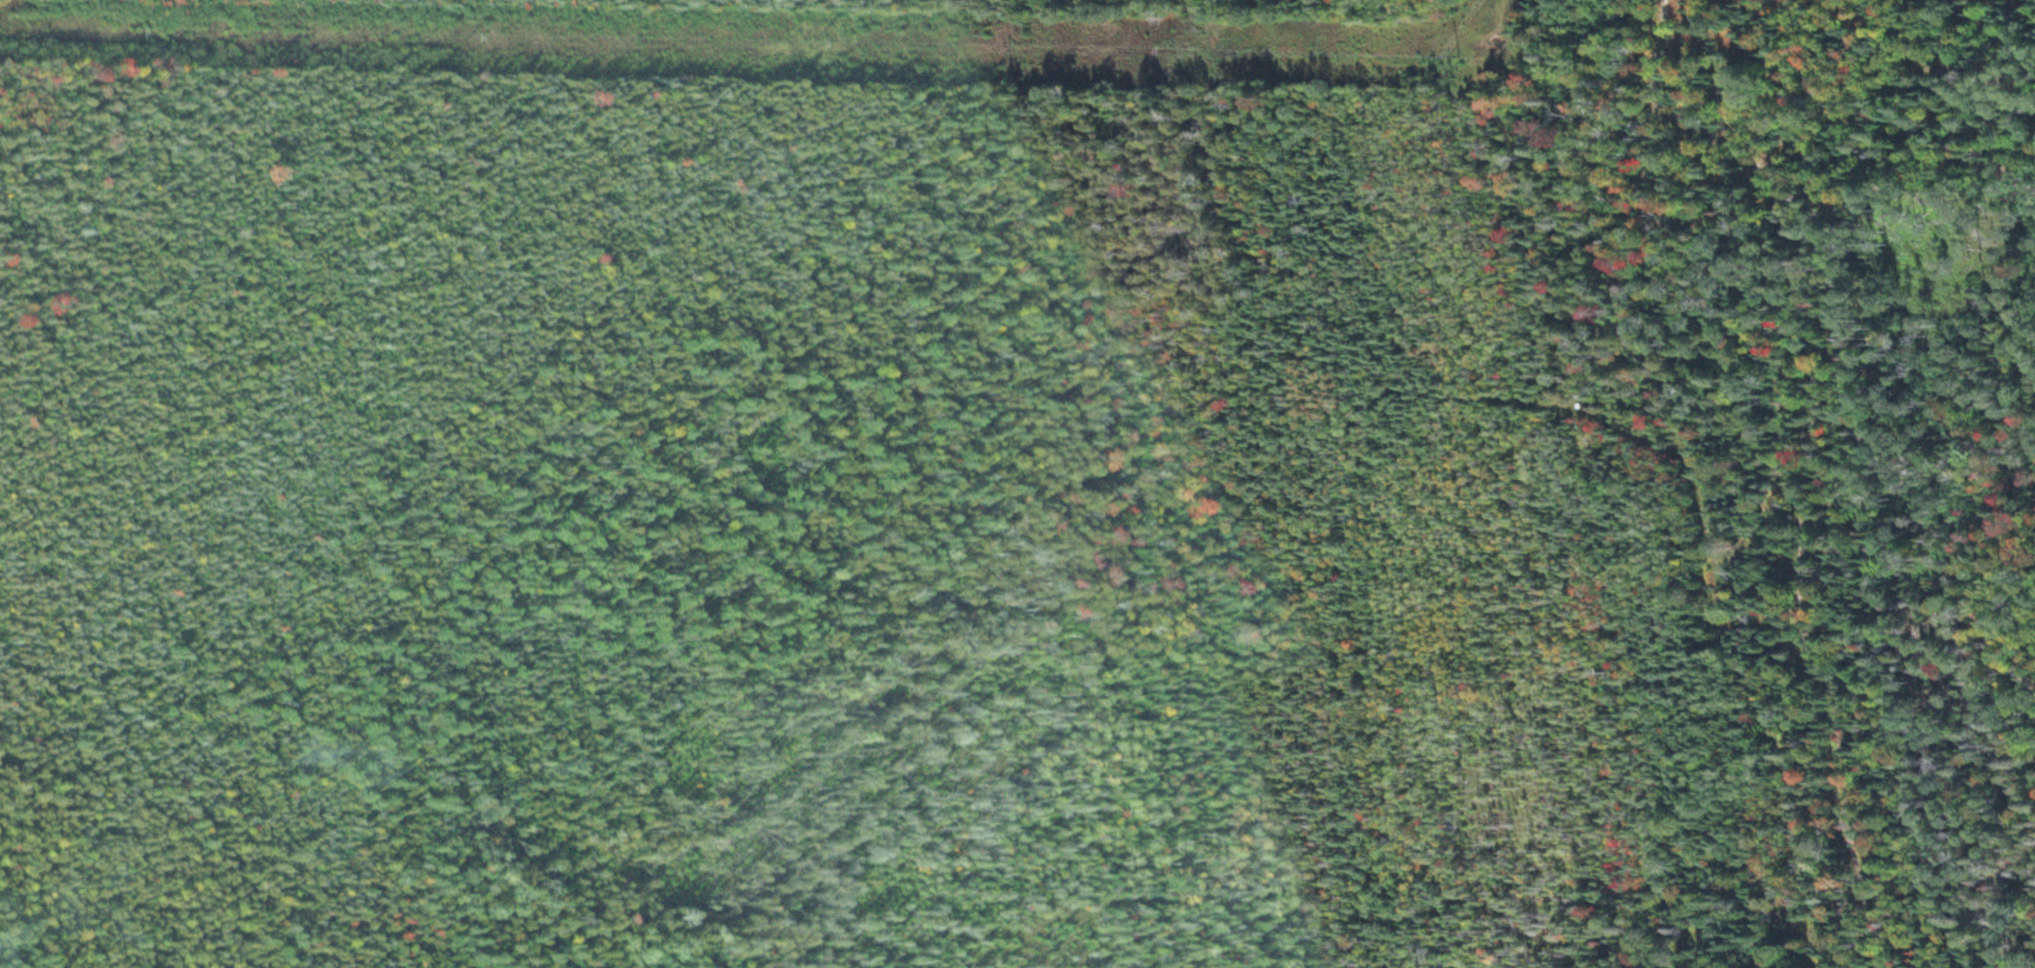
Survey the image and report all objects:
road: (1771, 451)

